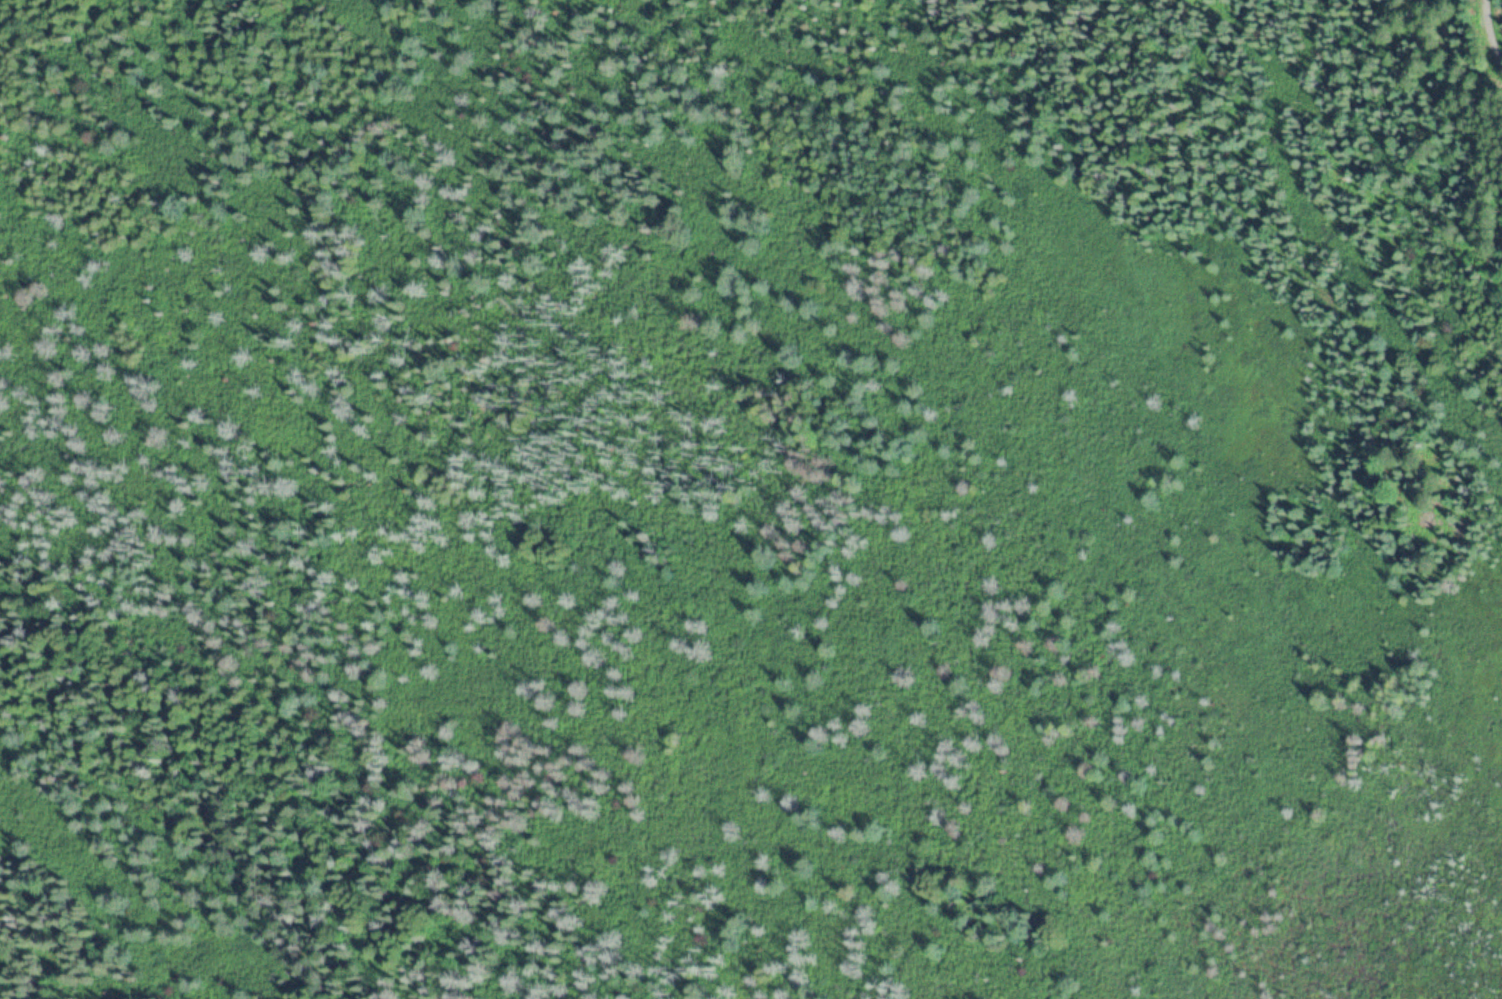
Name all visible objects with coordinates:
road: (1495, 28)

